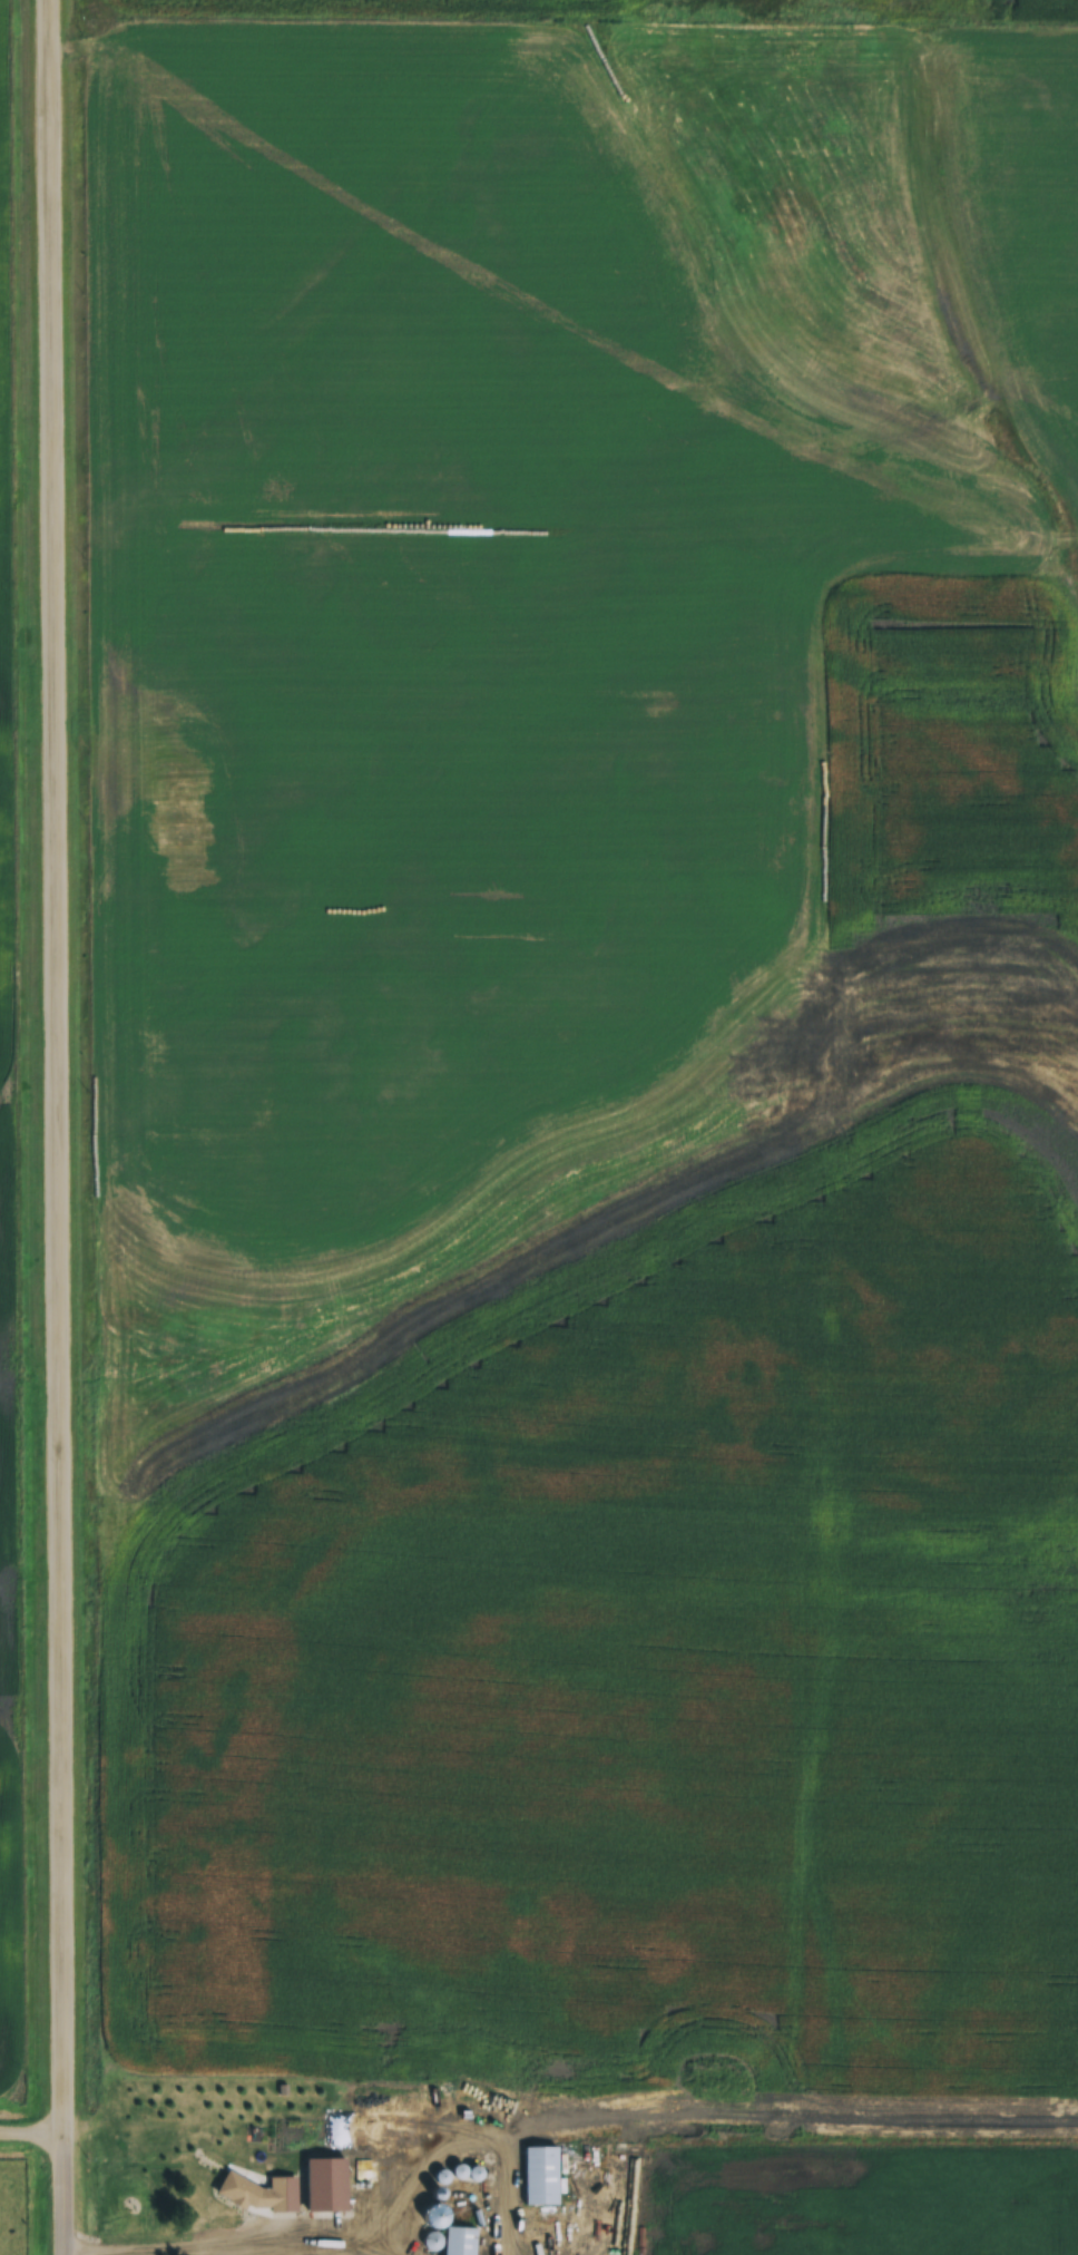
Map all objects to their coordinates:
road: (60, 1126)
road: (32, 2124)
building: (362, 2140)
building: (539, 2176)
building: (282, 2195)
building: (322, 2202)
building: (458, 2241)
road: (216, 2245)

